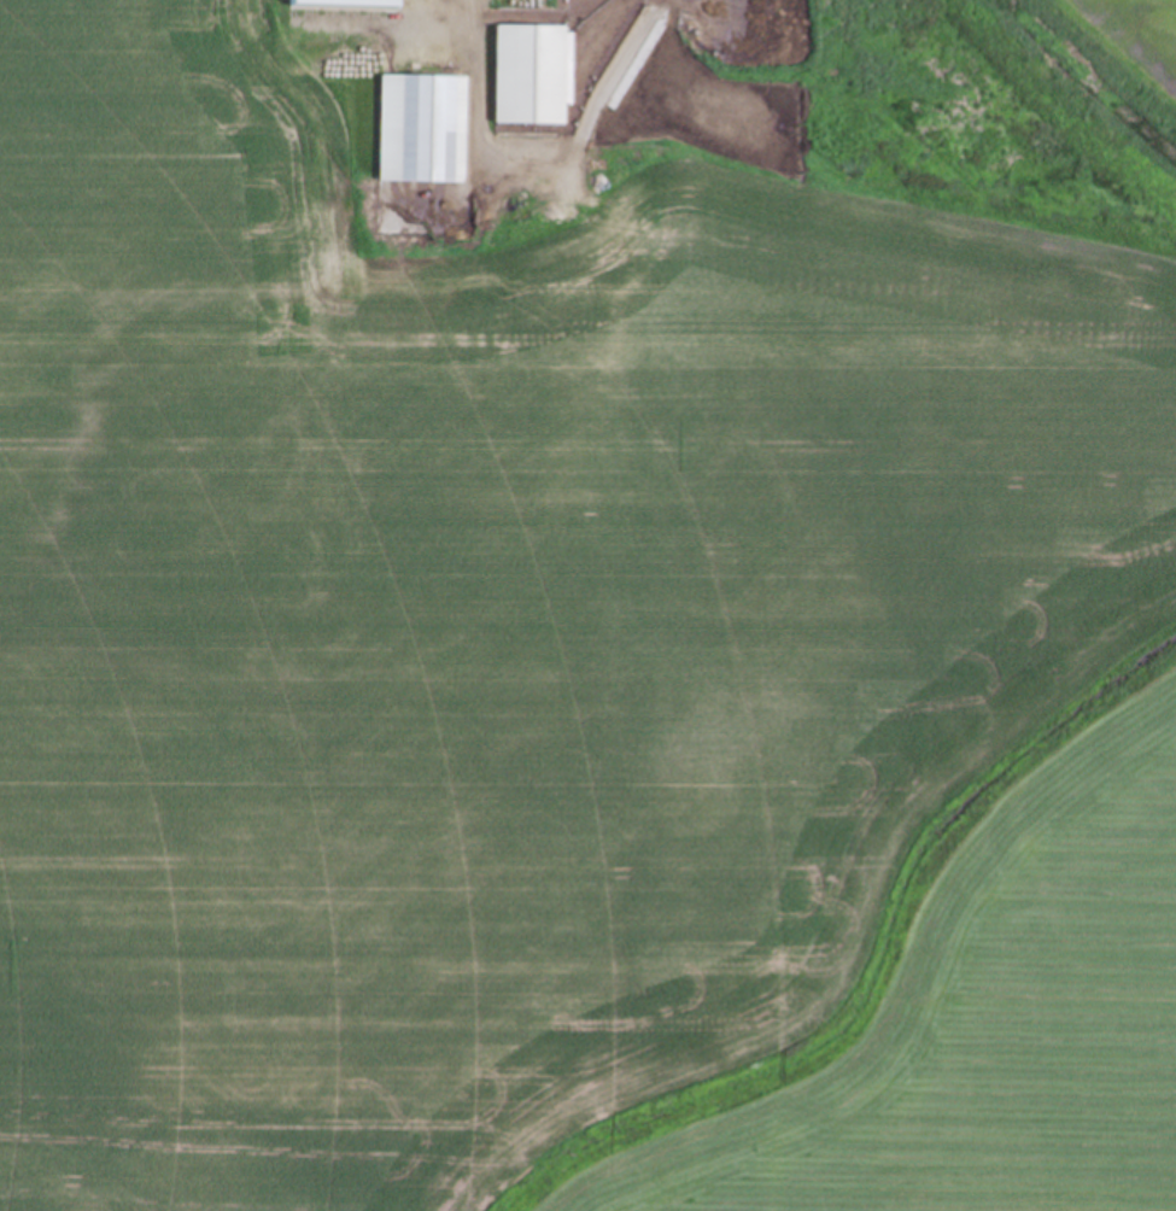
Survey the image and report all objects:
building: (349, 2)
building: (532, 75)
building: (422, 128)
crop: (590, 642)

